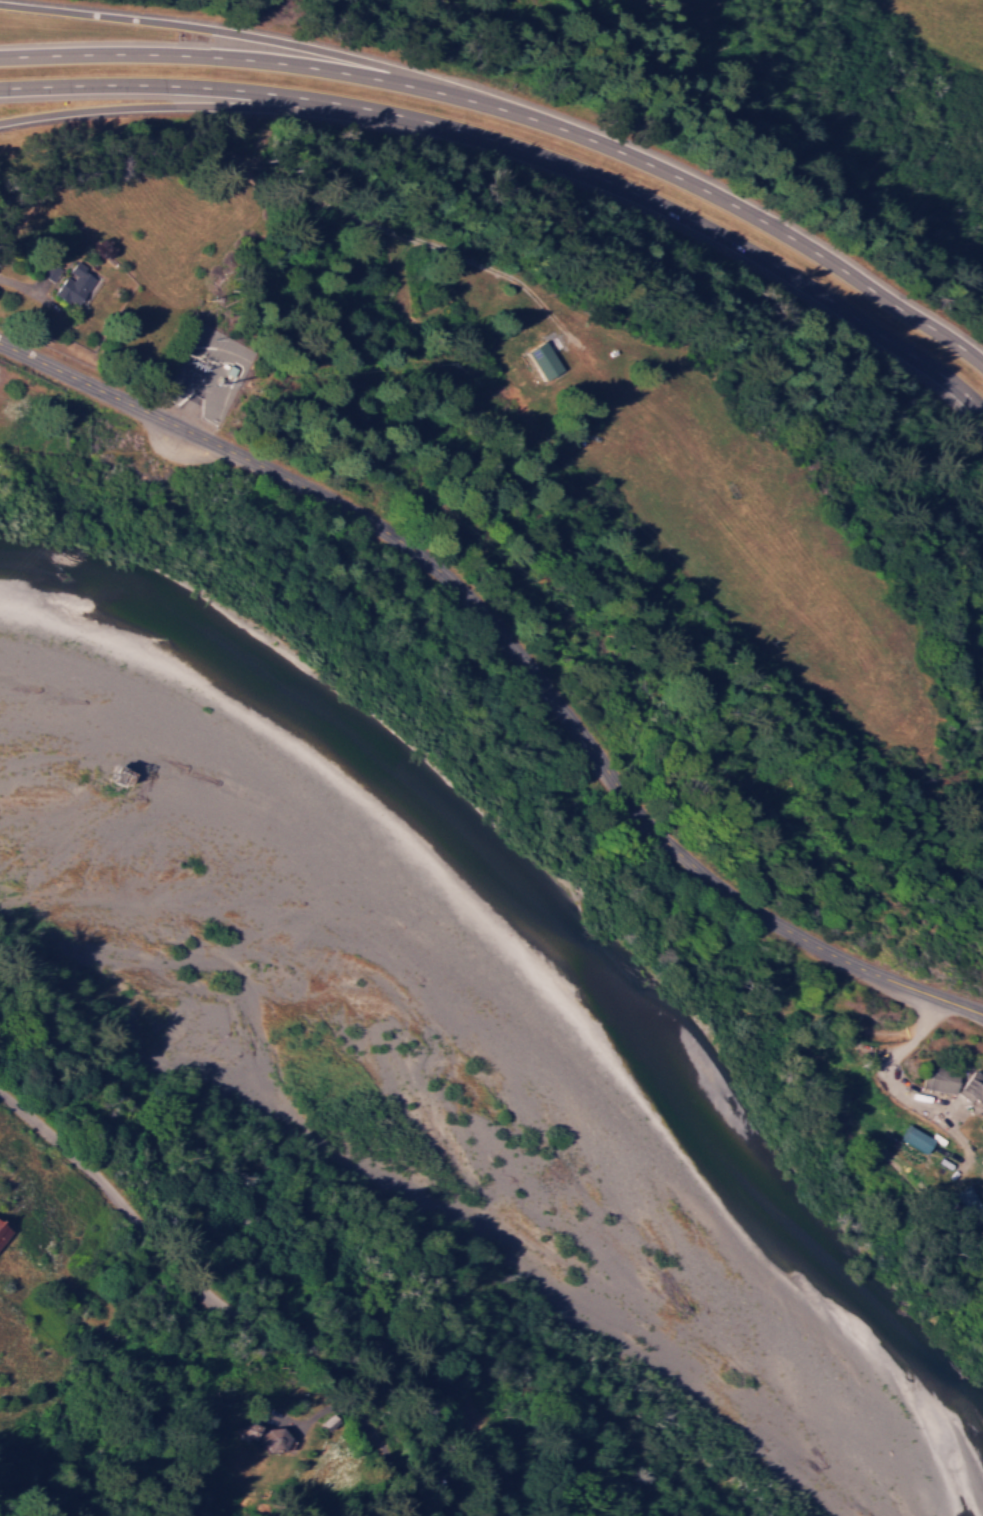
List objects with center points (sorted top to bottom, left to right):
road: (235, 31)
road: (187, 104)
road: (521, 114)
road: (522, 149)
building: (76, 285)
power substation: (204, 377)
road: (519, 645)
building: (937, 1079)
river: (238, 1087)
building: (971, 1087)
building: (913, 1138)
building: (2, 1224)
river: (554, 1225)
railway: (293, 1261)
road: (248, 1323)
river: (778, 1358)

